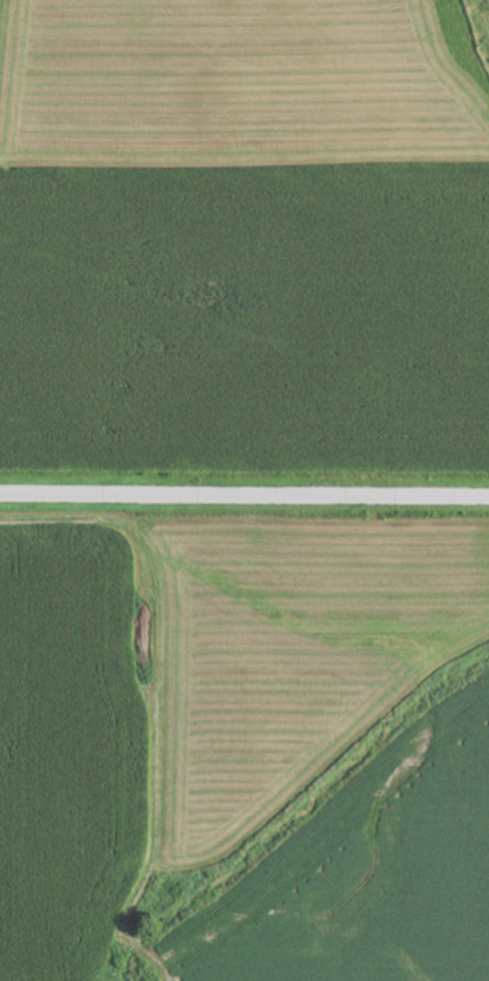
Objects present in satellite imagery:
road: (244, 495)

